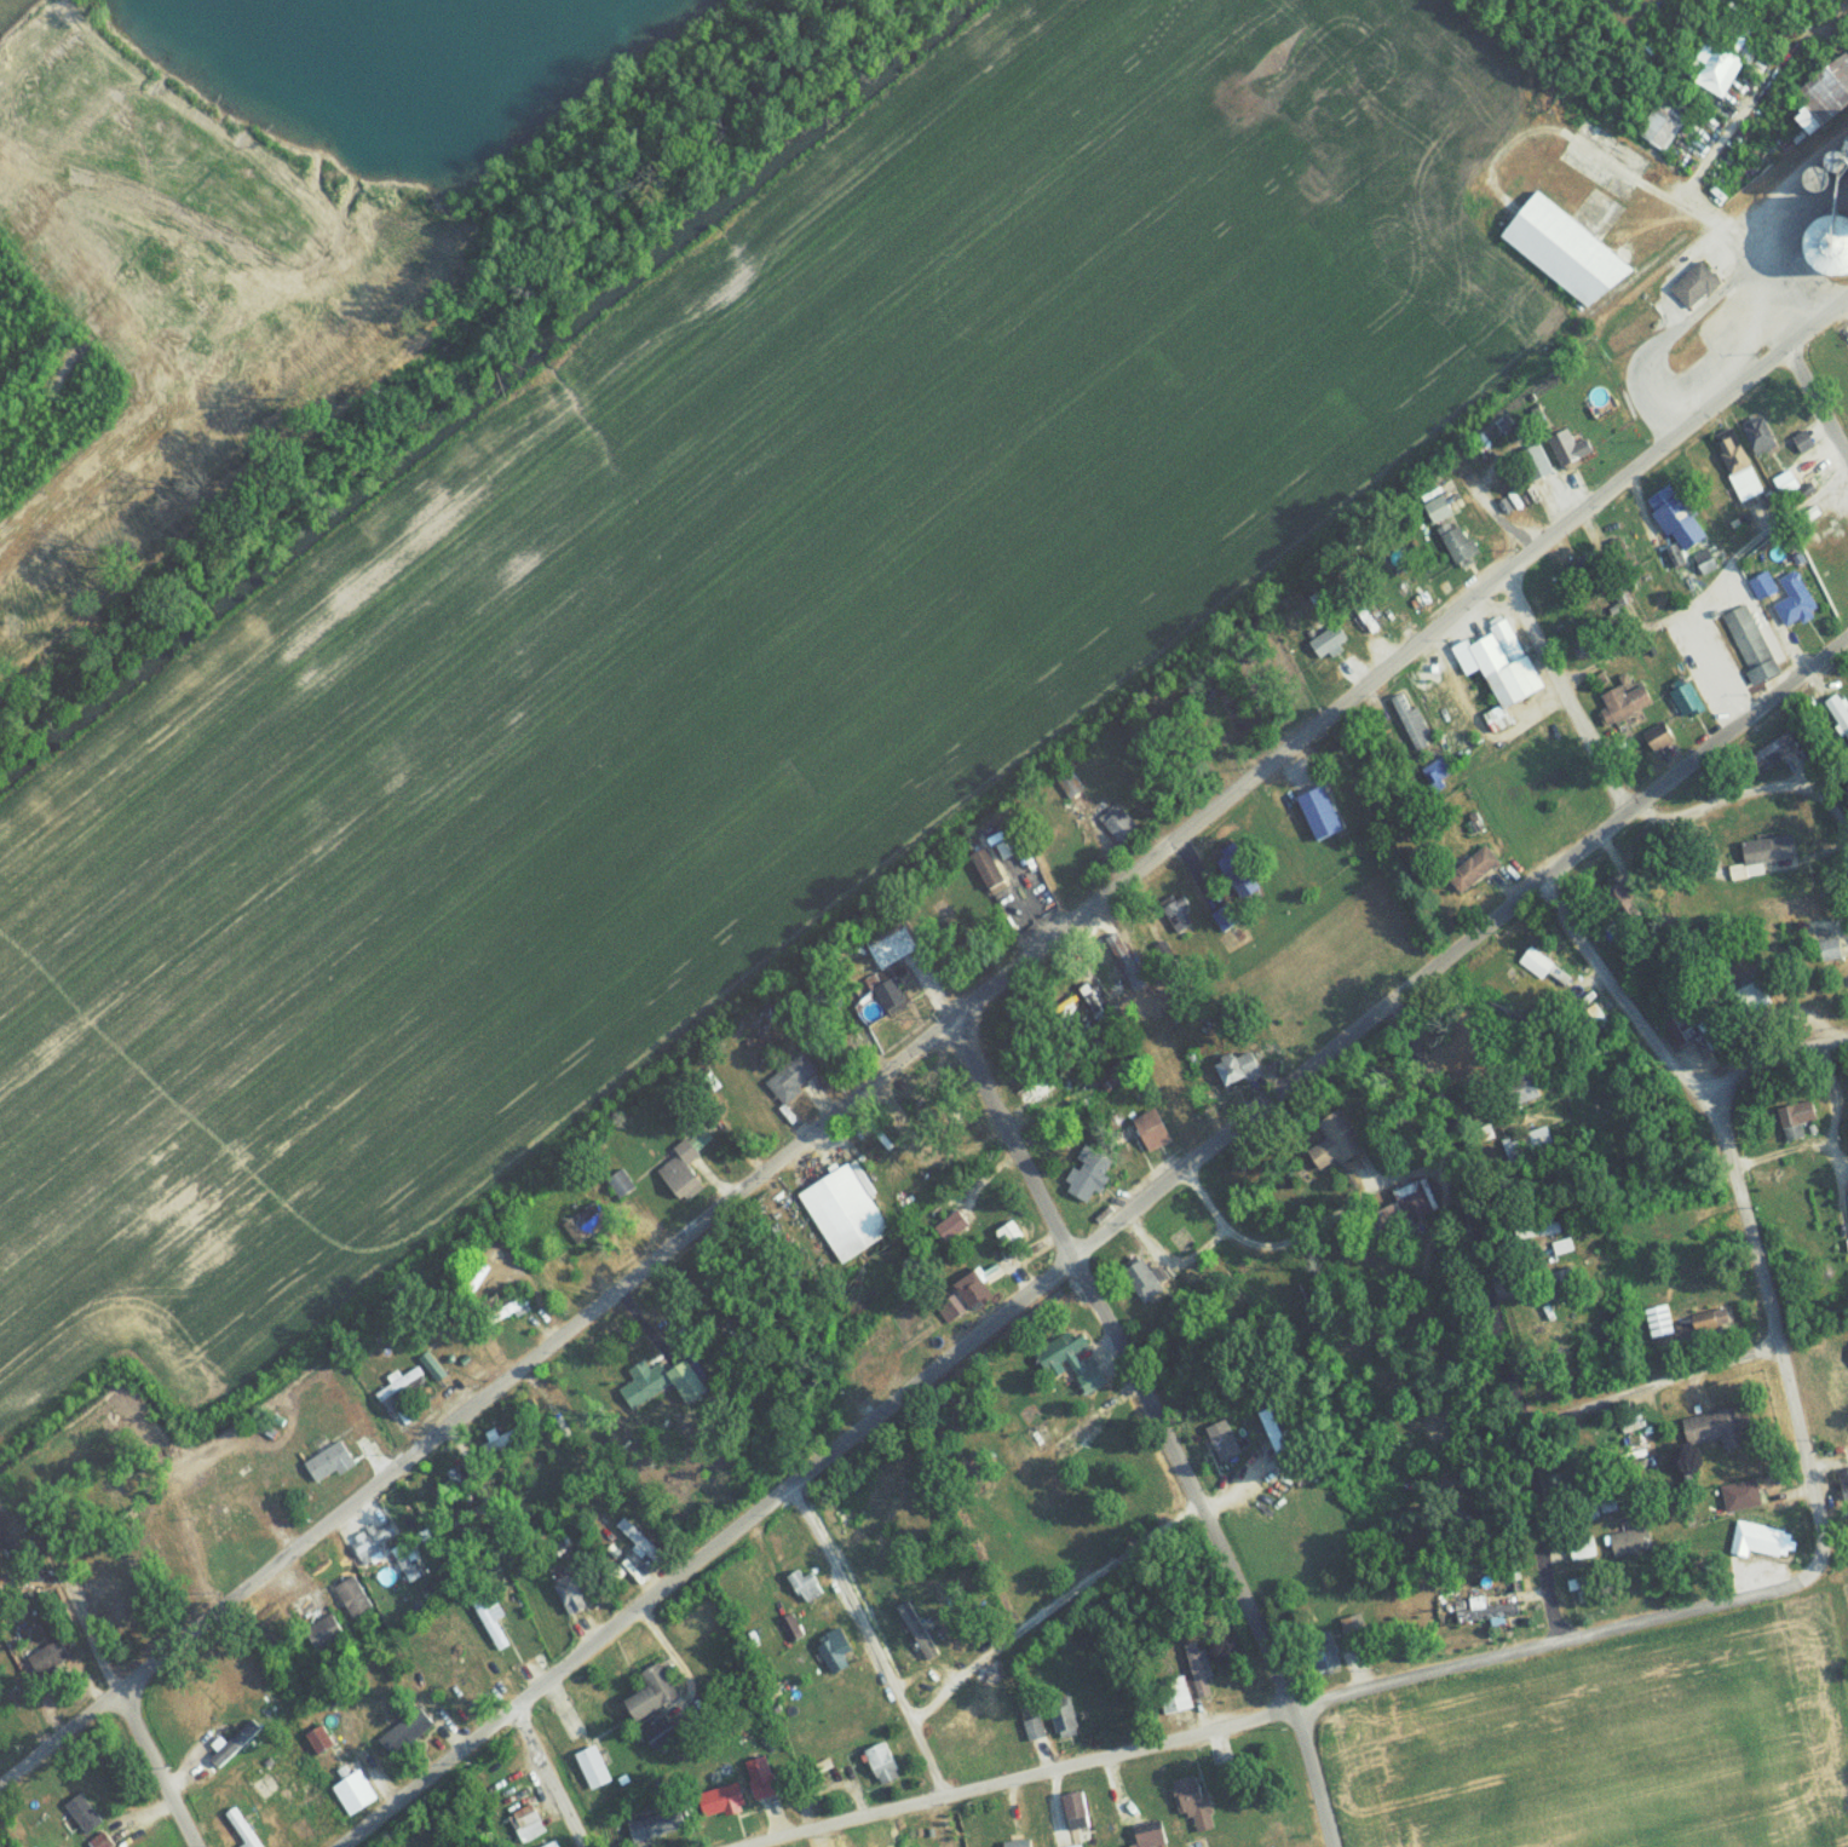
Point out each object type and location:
quarry: (407, 77)
road: (1817, 413)
road: (1708, 585)
crop: (713, 641)
road: (1712, 667)
road: (1628, 806)
road: (929, 1052)
road: (1774, 1060)
road: (1740, 1212)
road: (1096, 1245)
road: (1492, 1314)
road: (1647, 1392)
road: (1138, 1394)
road: (1047, 1607)
road: (871, 1642)
road: (474, 1644)
road: (106, 1675)
road: (1279, 1717)
crop: (1611, 1747)

